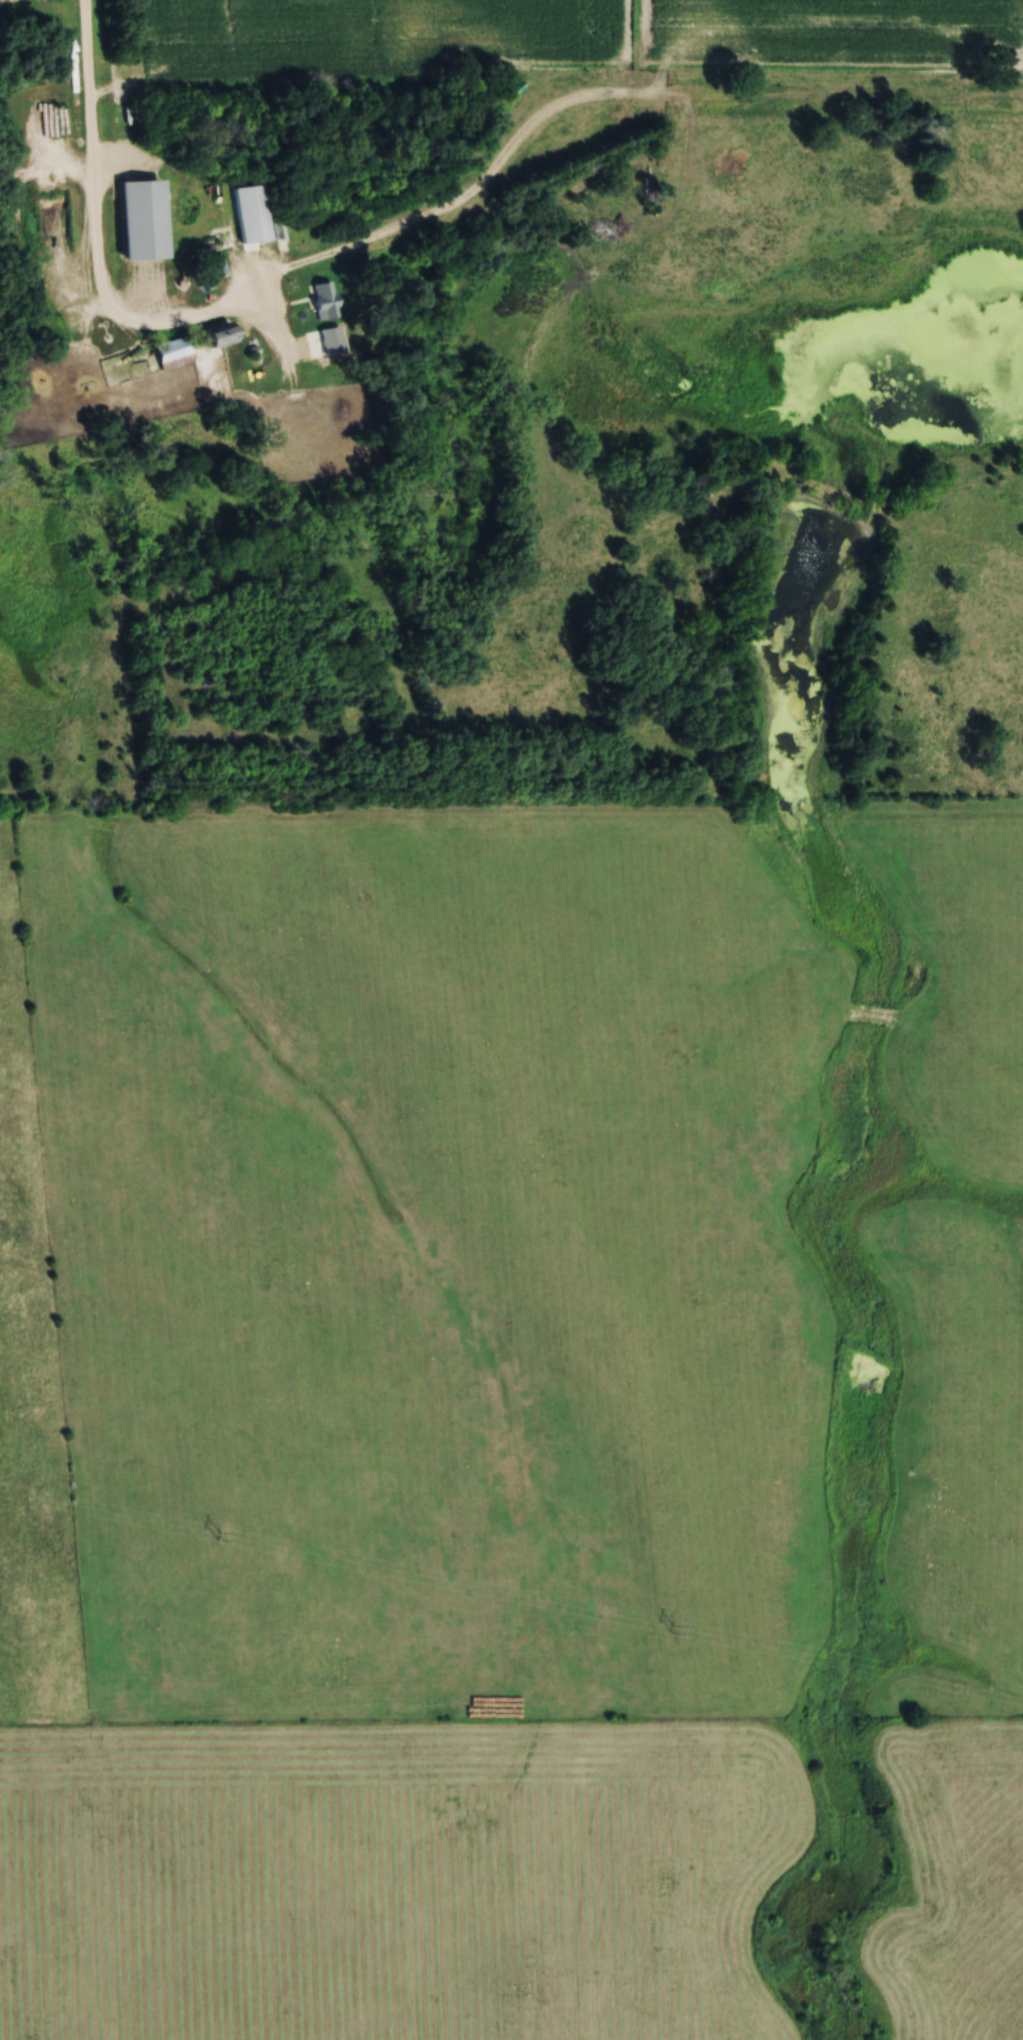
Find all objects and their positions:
road: (591, 98)
building: (249, 215)
building: (137, 221)
road: (96, 241)
building: (321, 302)
building: (213, 337)
building: (169, 353)

